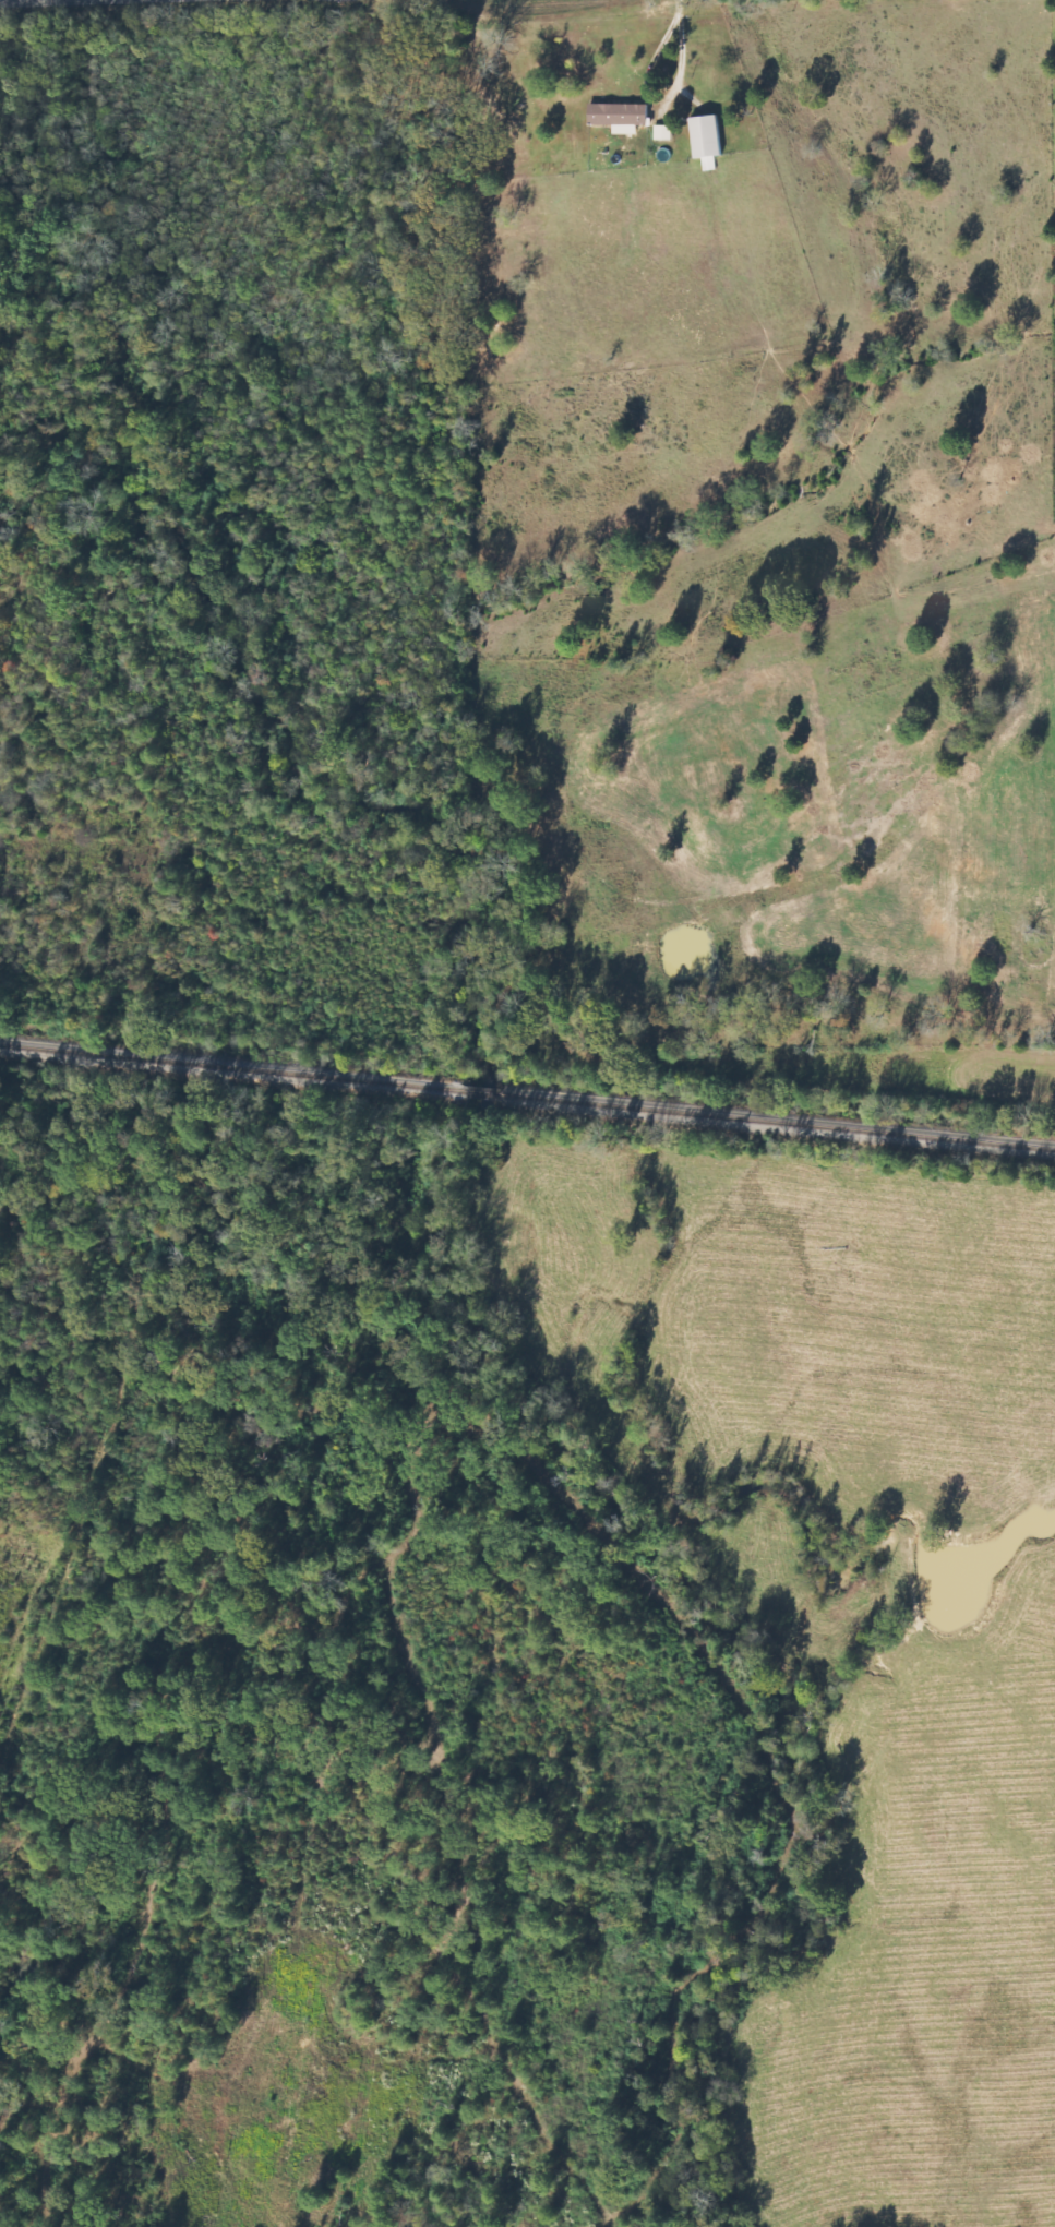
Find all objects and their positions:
road: (680, 4)
road: (658, 98)
building: (621, 117)
building: (663, 132)
building: (708, 140)
railway: (527, 1095)

